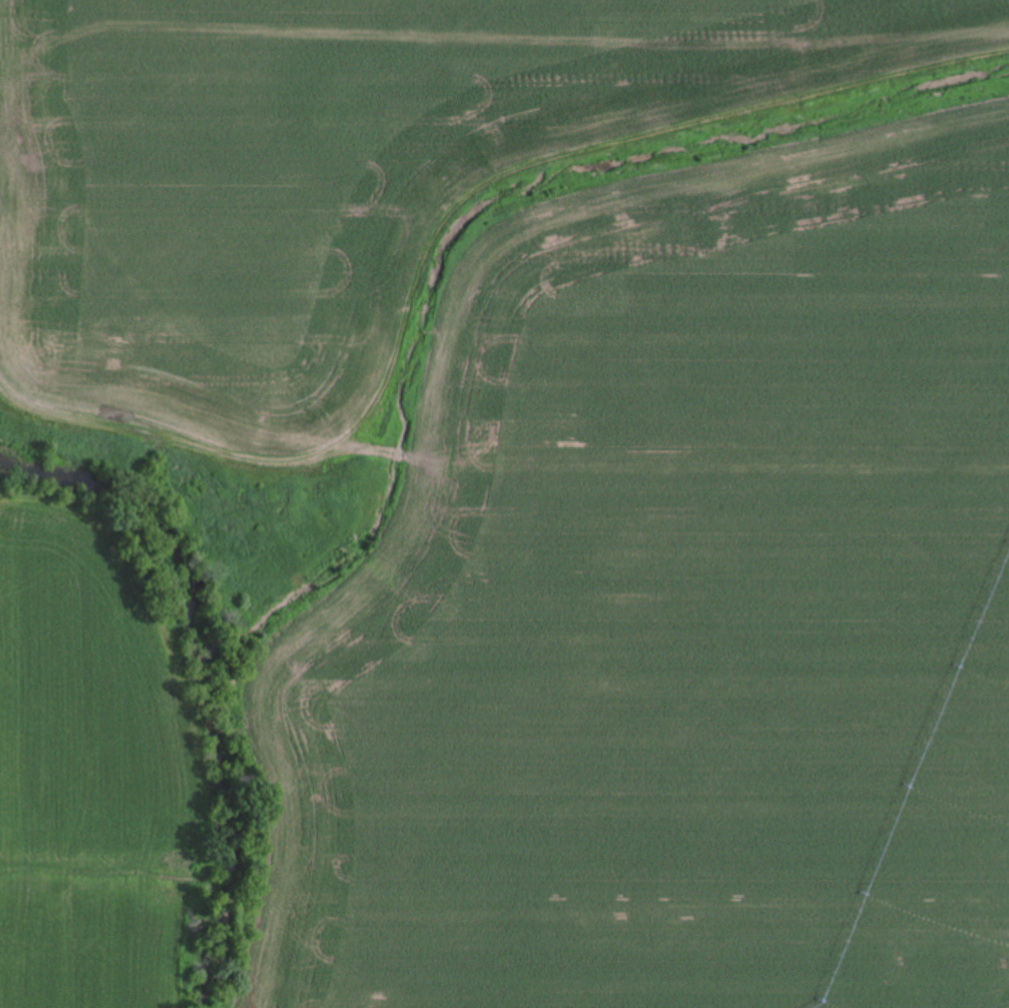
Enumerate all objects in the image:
crop: (560, 468)
river: (149, 516)
river: (243, 765)
river: (243, 941)

